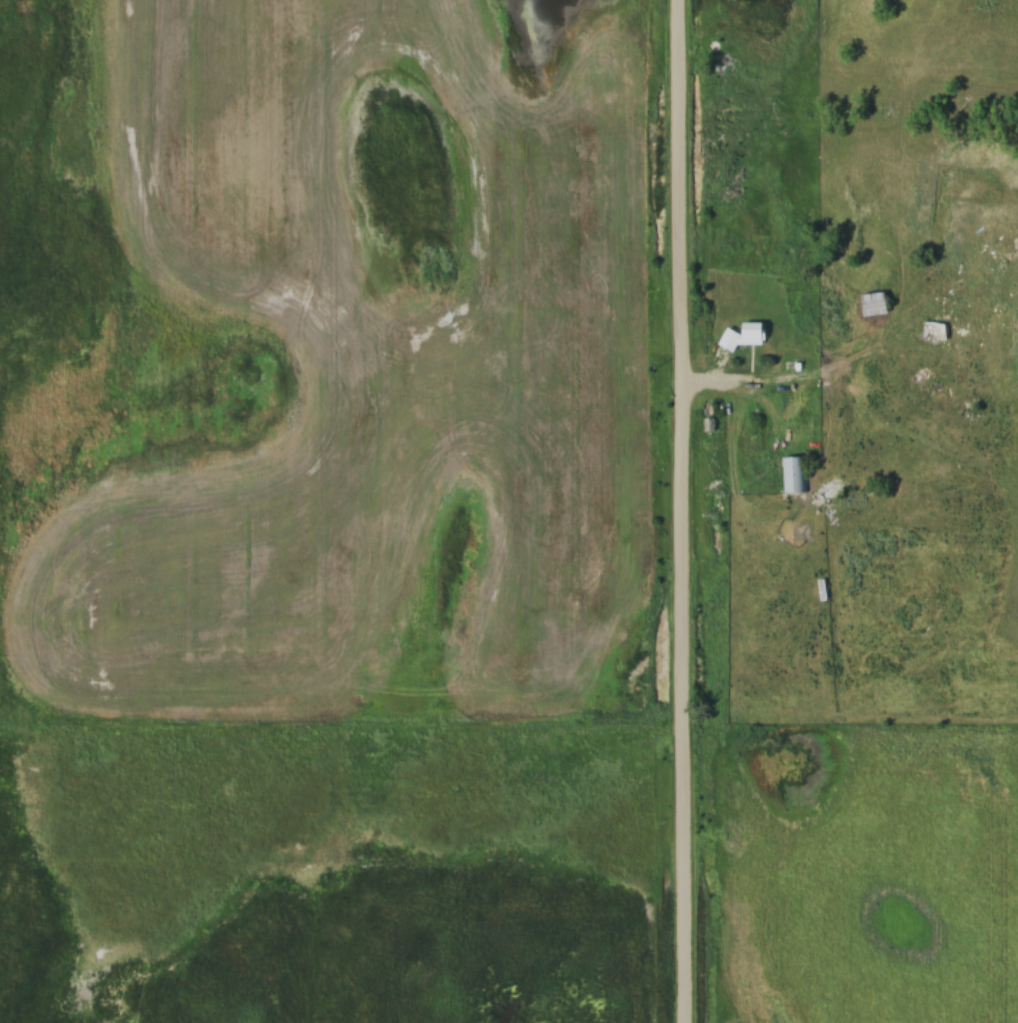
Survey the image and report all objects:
building: (871, 306)
building: (931, 333)
building: (742, 336)
building: (937, 389)
building: (709, 417)
building: (795, 474)
building: (852, 501)
road: (679, 511)

